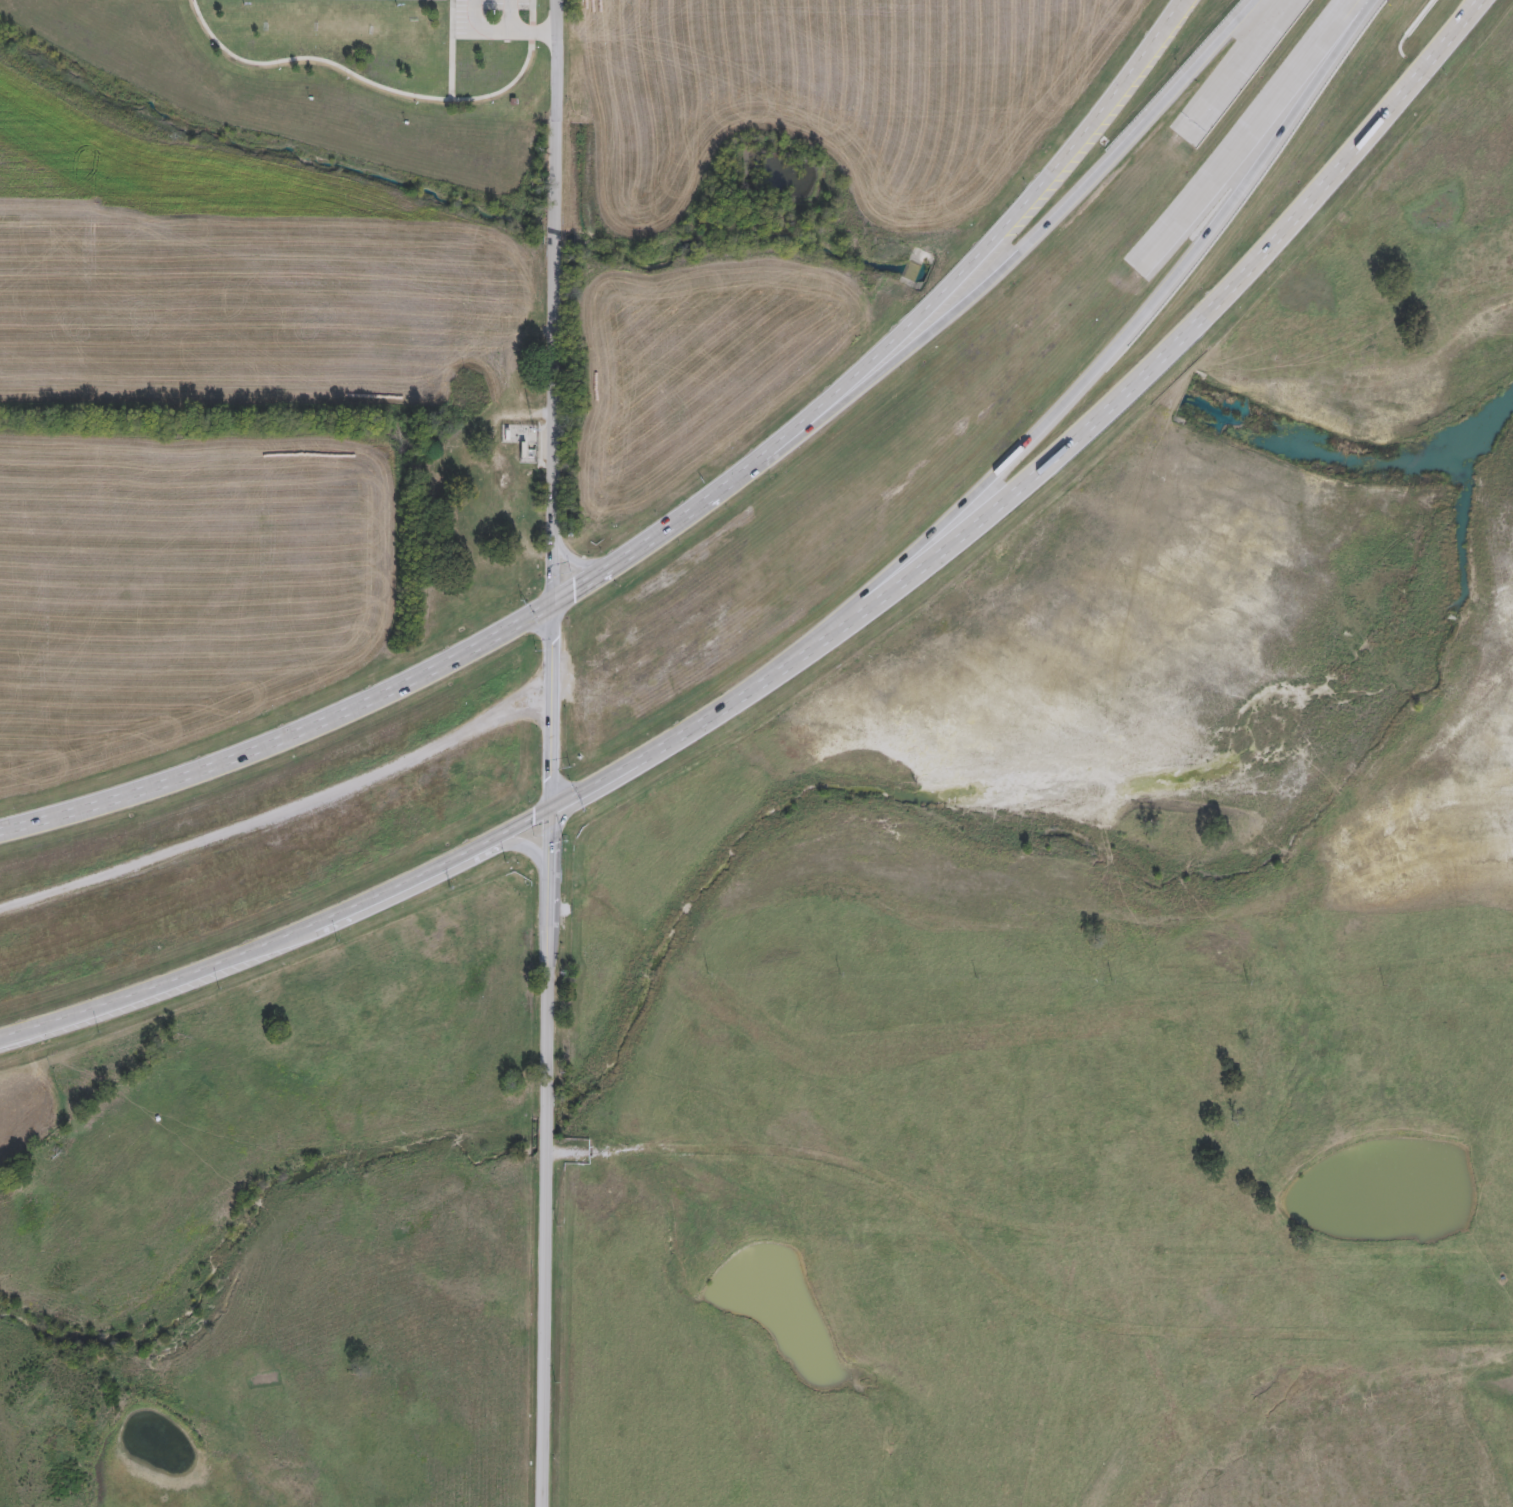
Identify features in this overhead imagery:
road: (1489, 1)
street lamp: (244, 3)
street lamp: (397, 5)
road: (512, 13)
road: (476, 27)
road: (534, 32)
road: (450, 46)
road: (373, 79)
park: (370, 84)
road: (556, 114)
crop: (780, 191)
road: (554, 238)
road: (976, 266)
road: (1011, 269)
road: (1148, 322)
road: (1202, 324)
crop: (234, 433)
road: (551, 529)
road: (579, 561)
traffic signals: (551, 604)
road: (465, 650)
road: (756, 696)
road: (98, 809)
traffic signals: (554, 812)
road: (530, 849)
road: (324, 929)
crop: (56, 1092)
road: (548, 1159)

